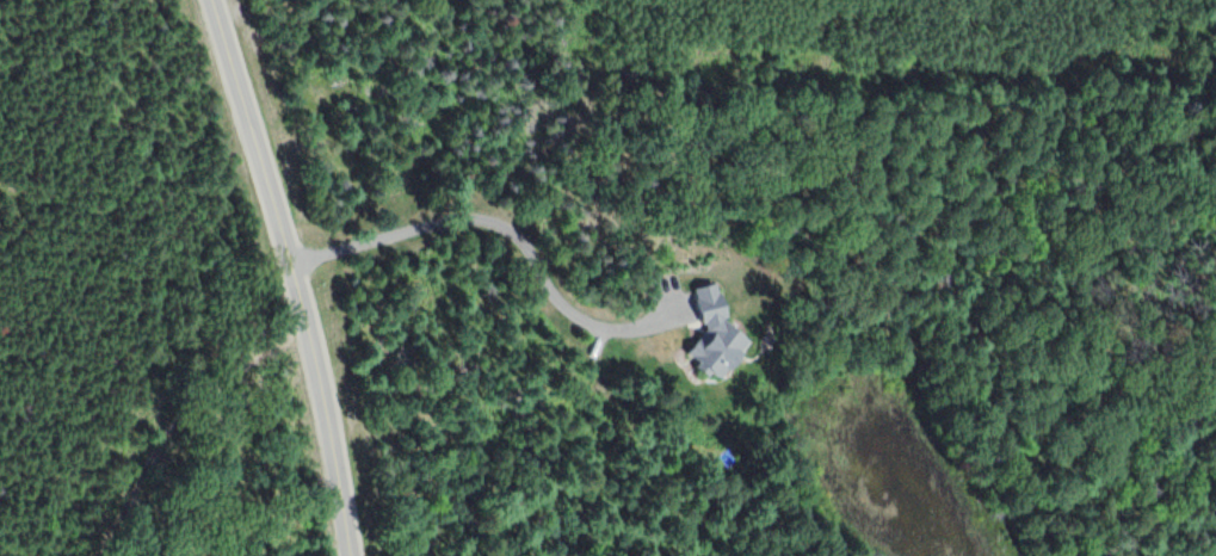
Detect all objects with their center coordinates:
road: (295, 274)

